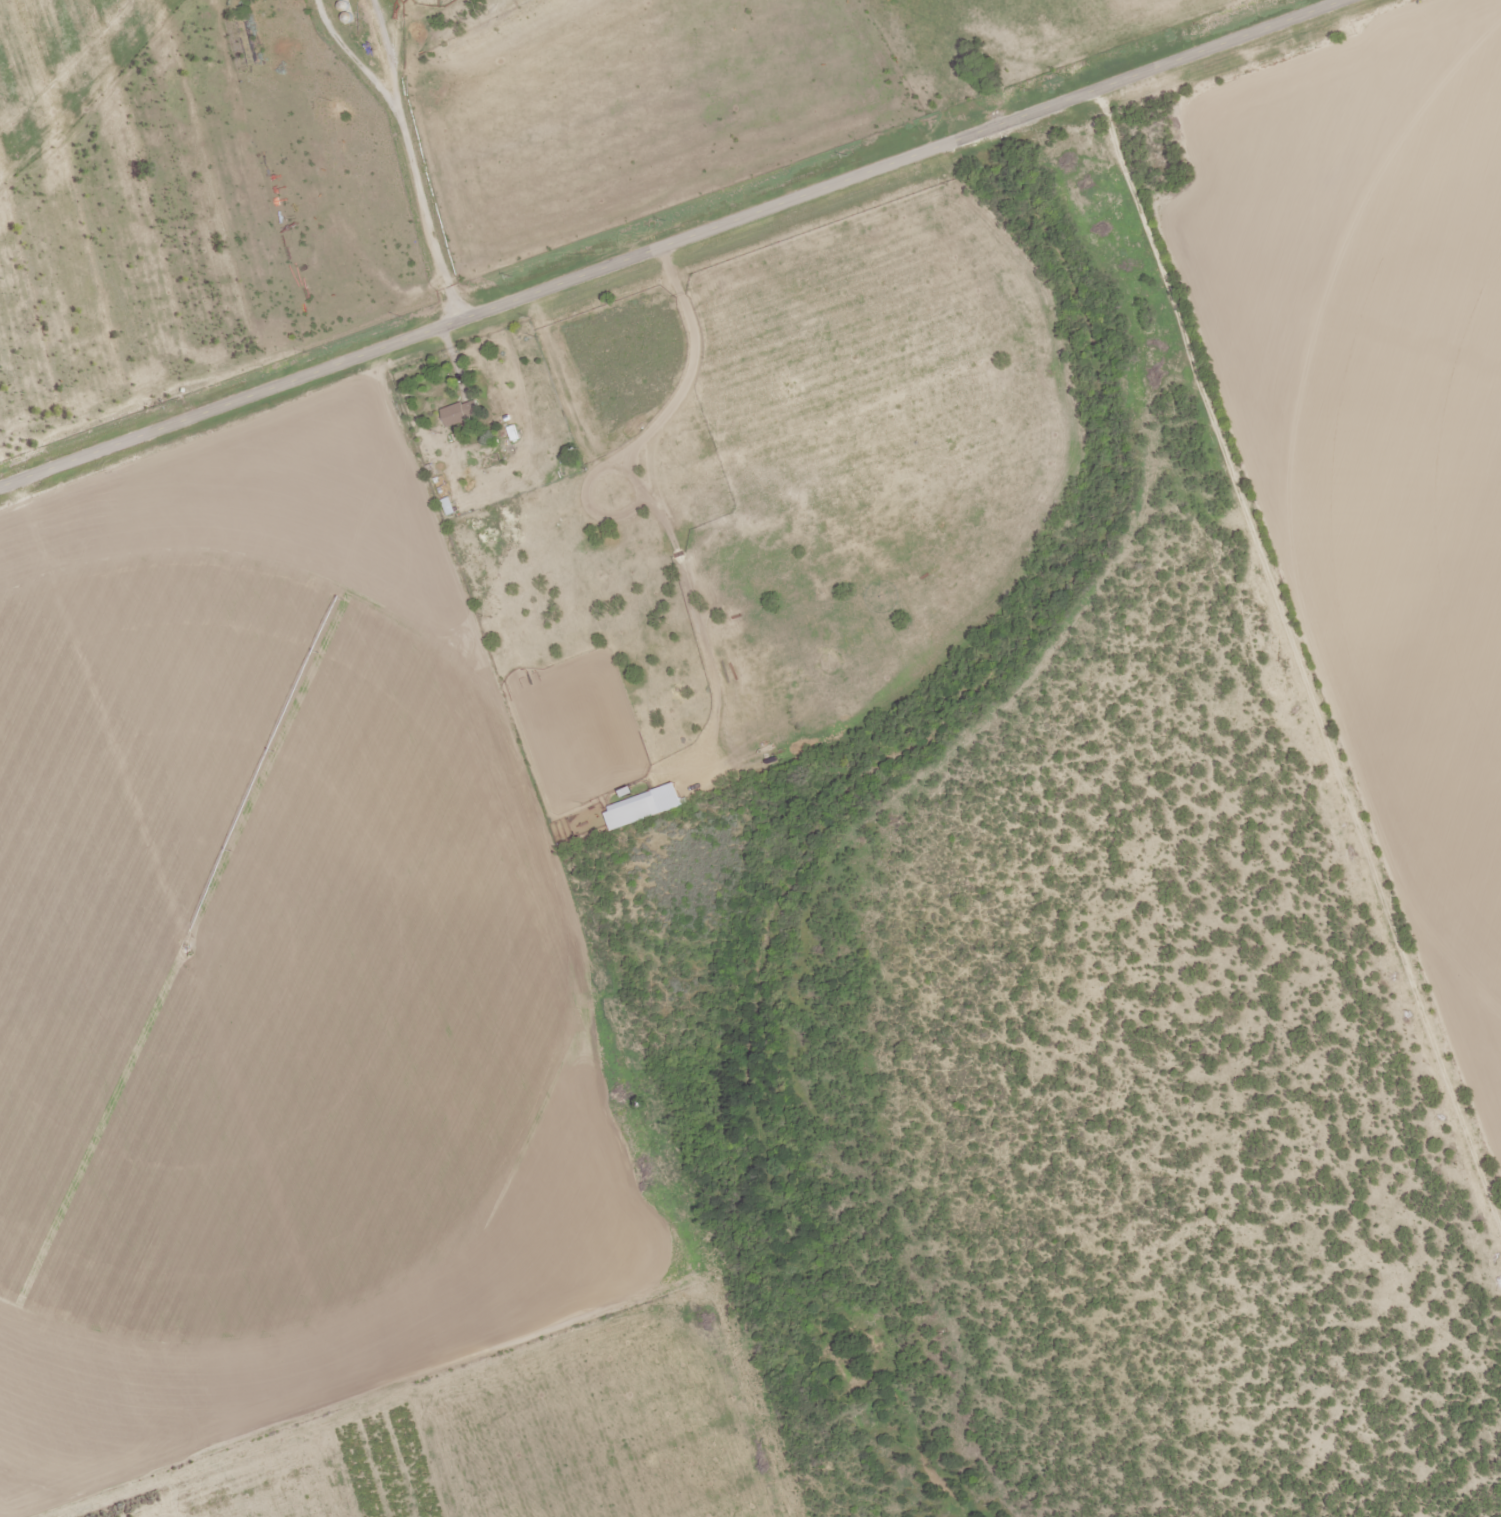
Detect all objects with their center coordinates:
building: (241, 44)
road: (666, 241)
building: (462, 413)

